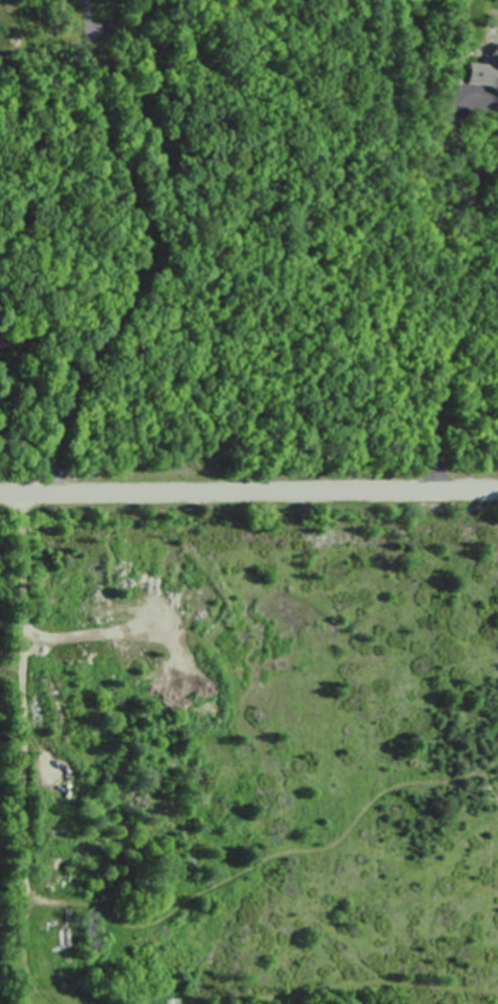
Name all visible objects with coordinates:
building: (495, 84)
road: (450, 117)
road: (486, 168)
road: (145, 249)
road: (461, 332)
road: (249, 485)
road: (25, 691)

